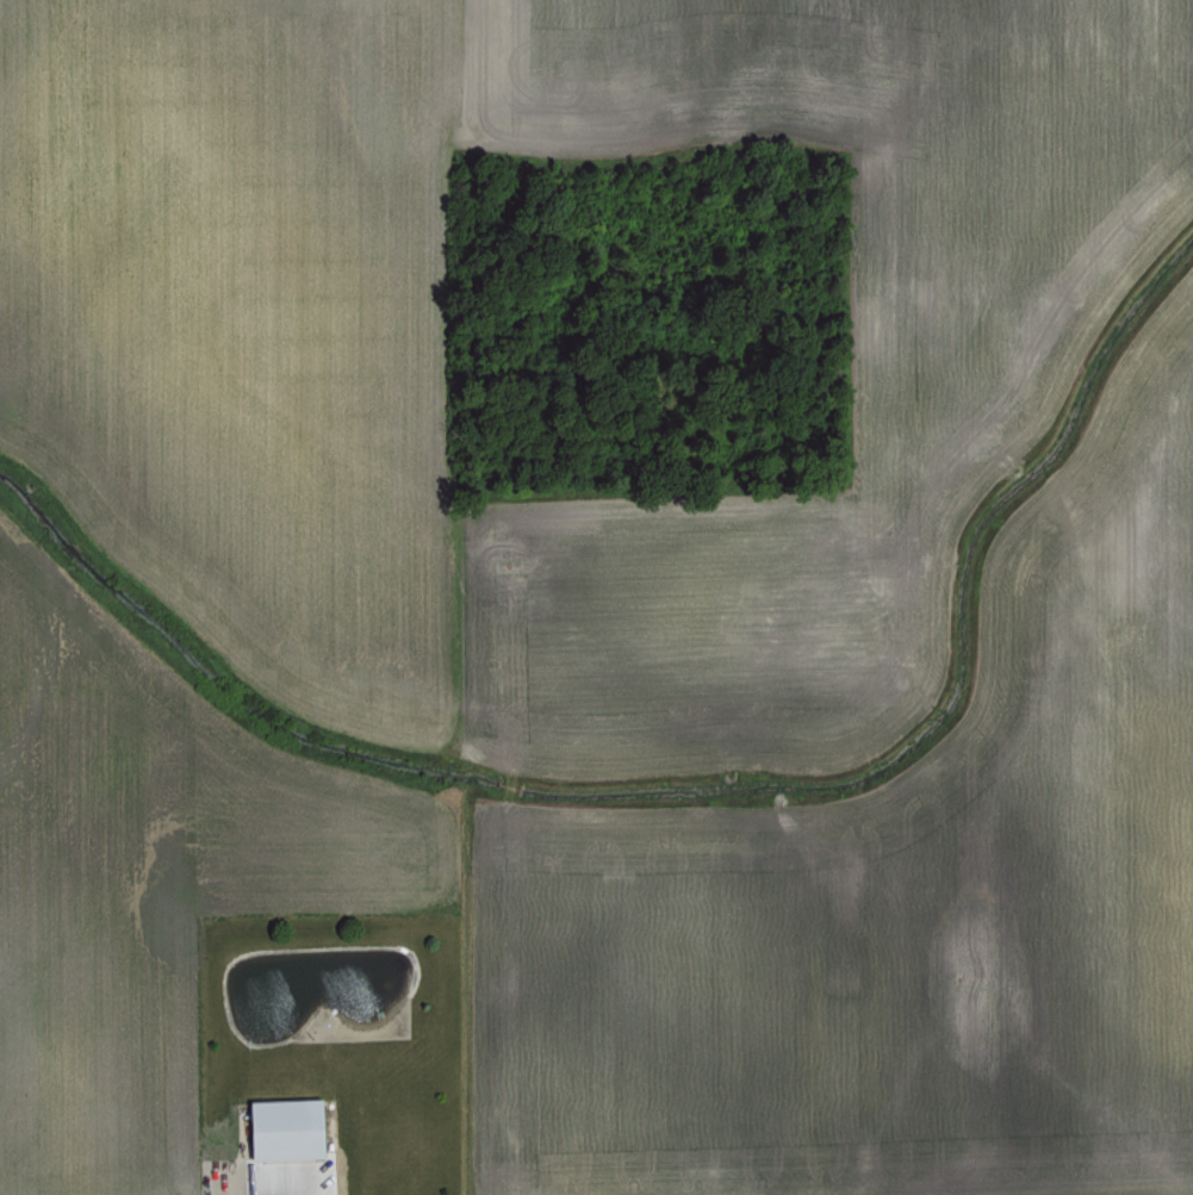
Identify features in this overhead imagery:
building: (281, 1126)

